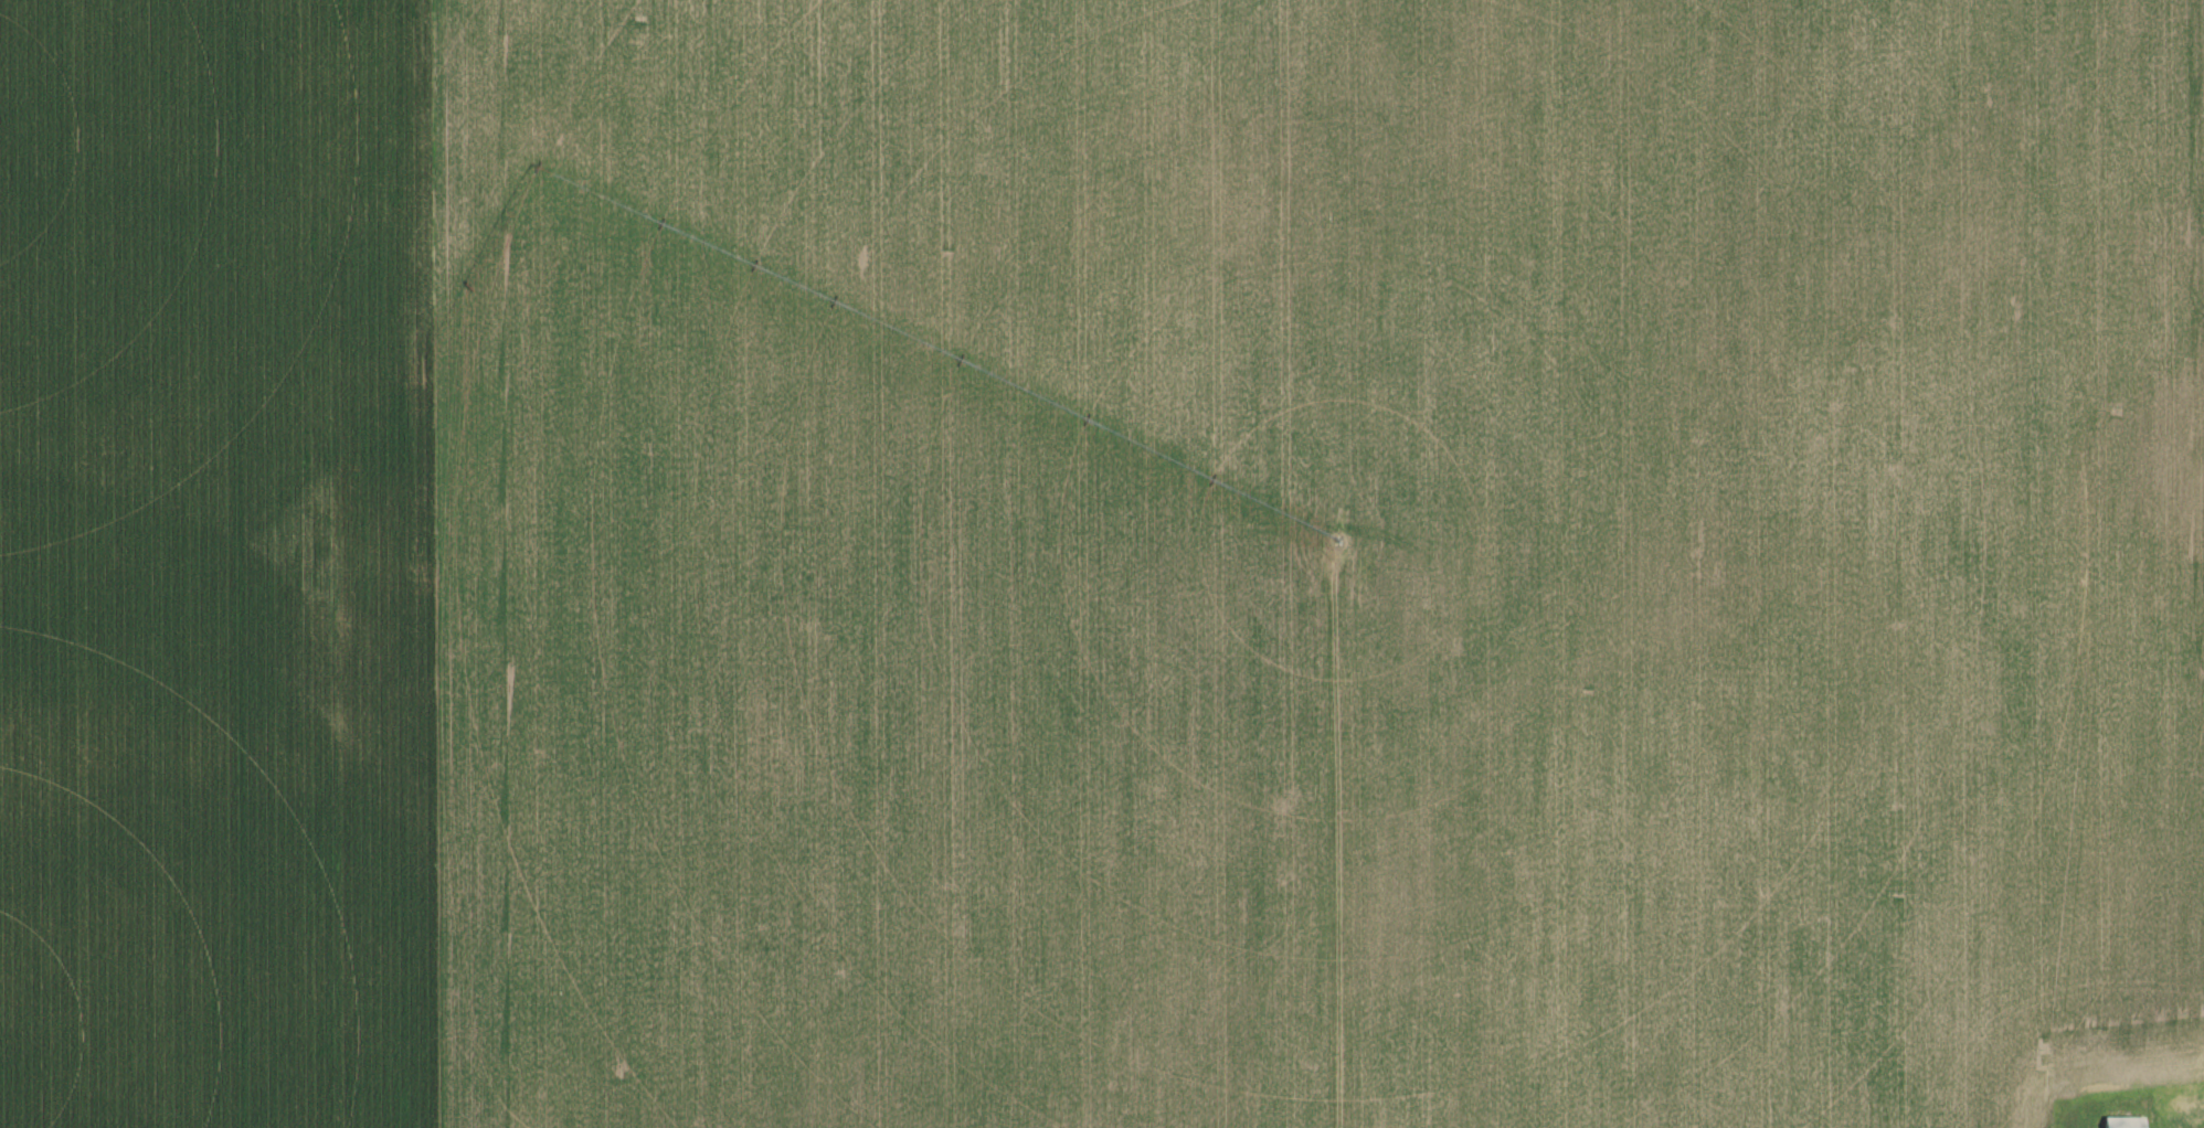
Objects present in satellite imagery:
building: (2121, 1124)

